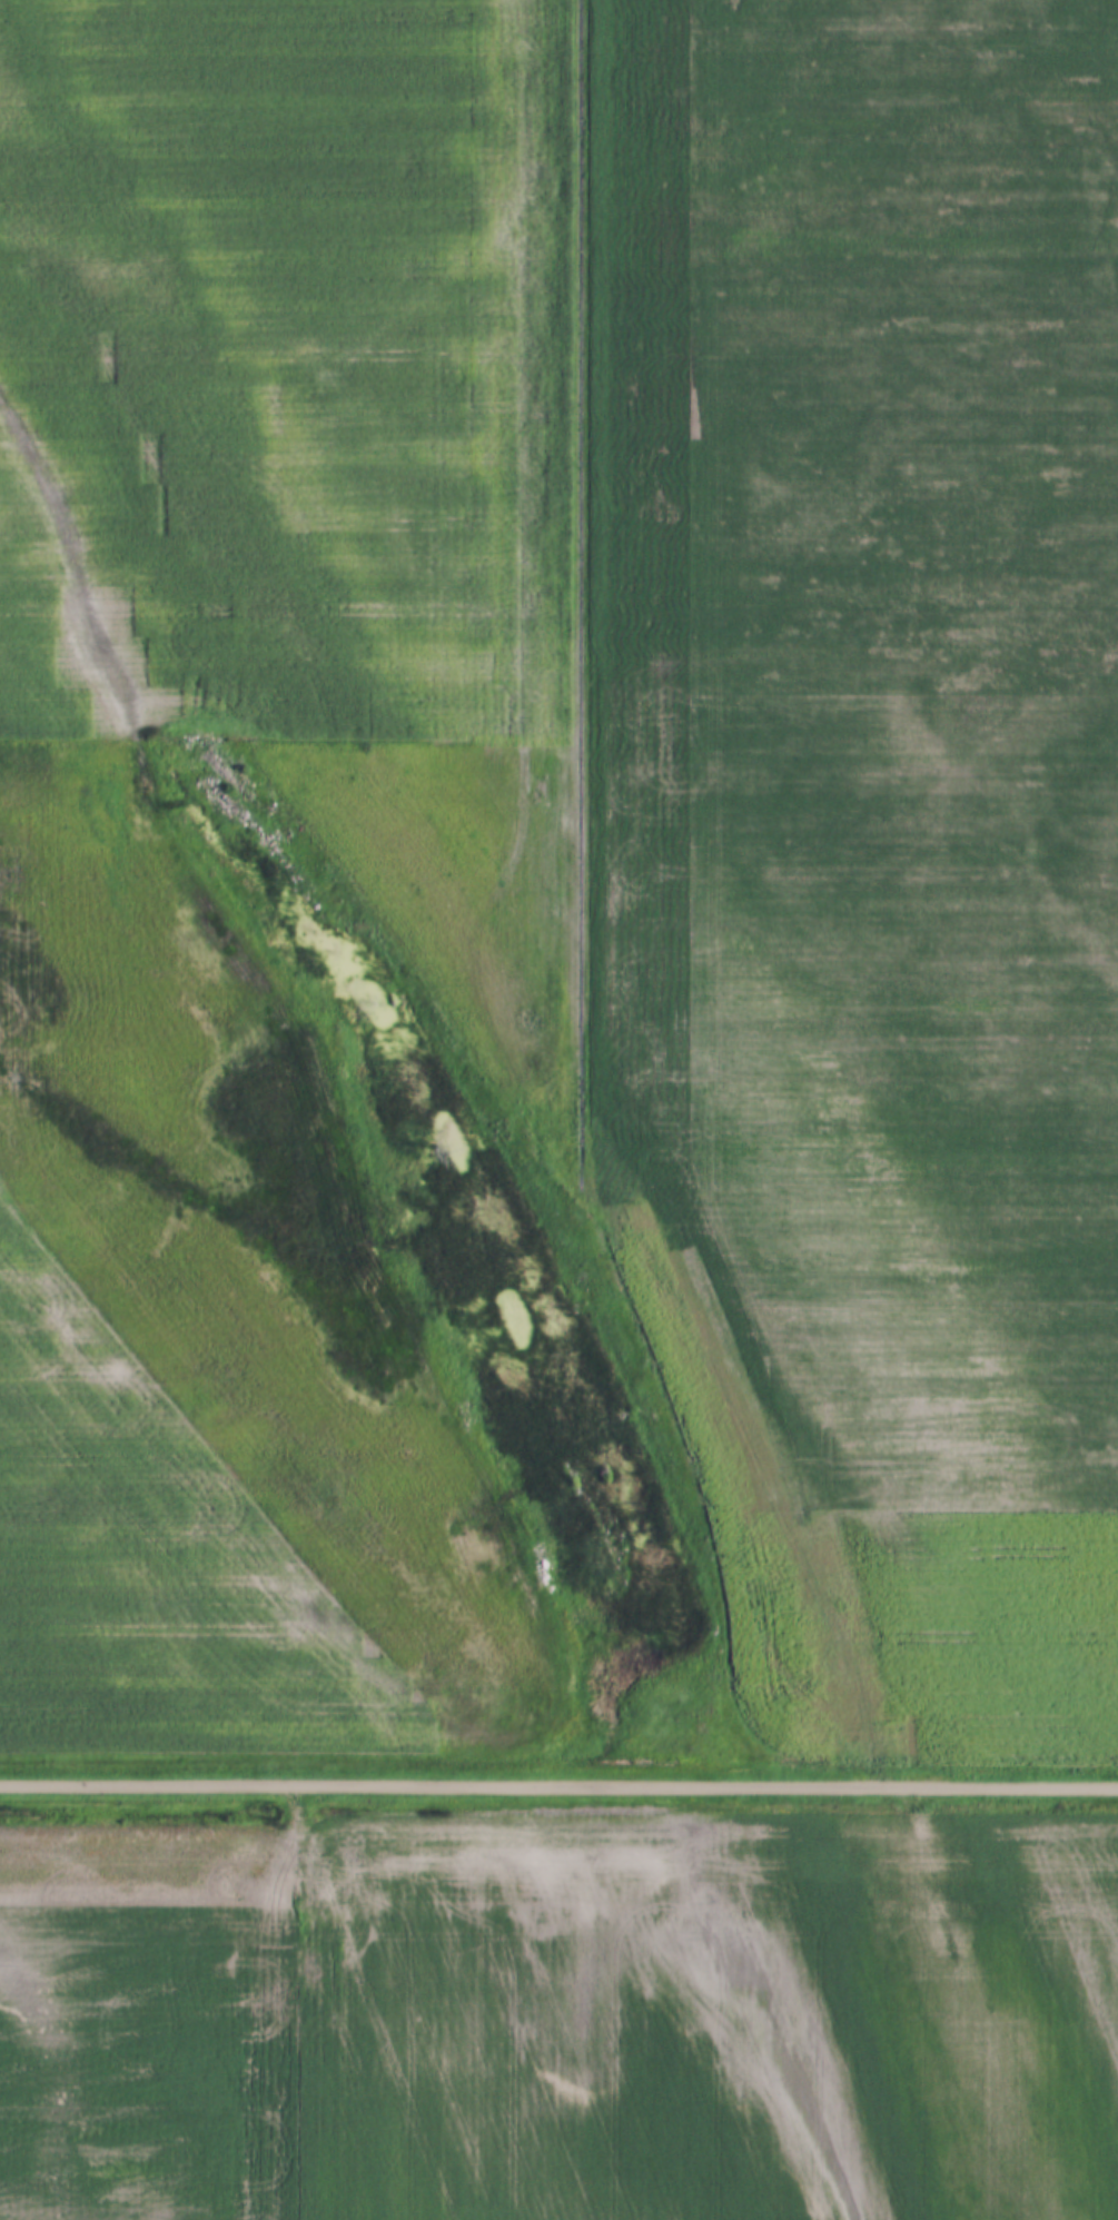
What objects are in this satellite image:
road: (558, 1785)

